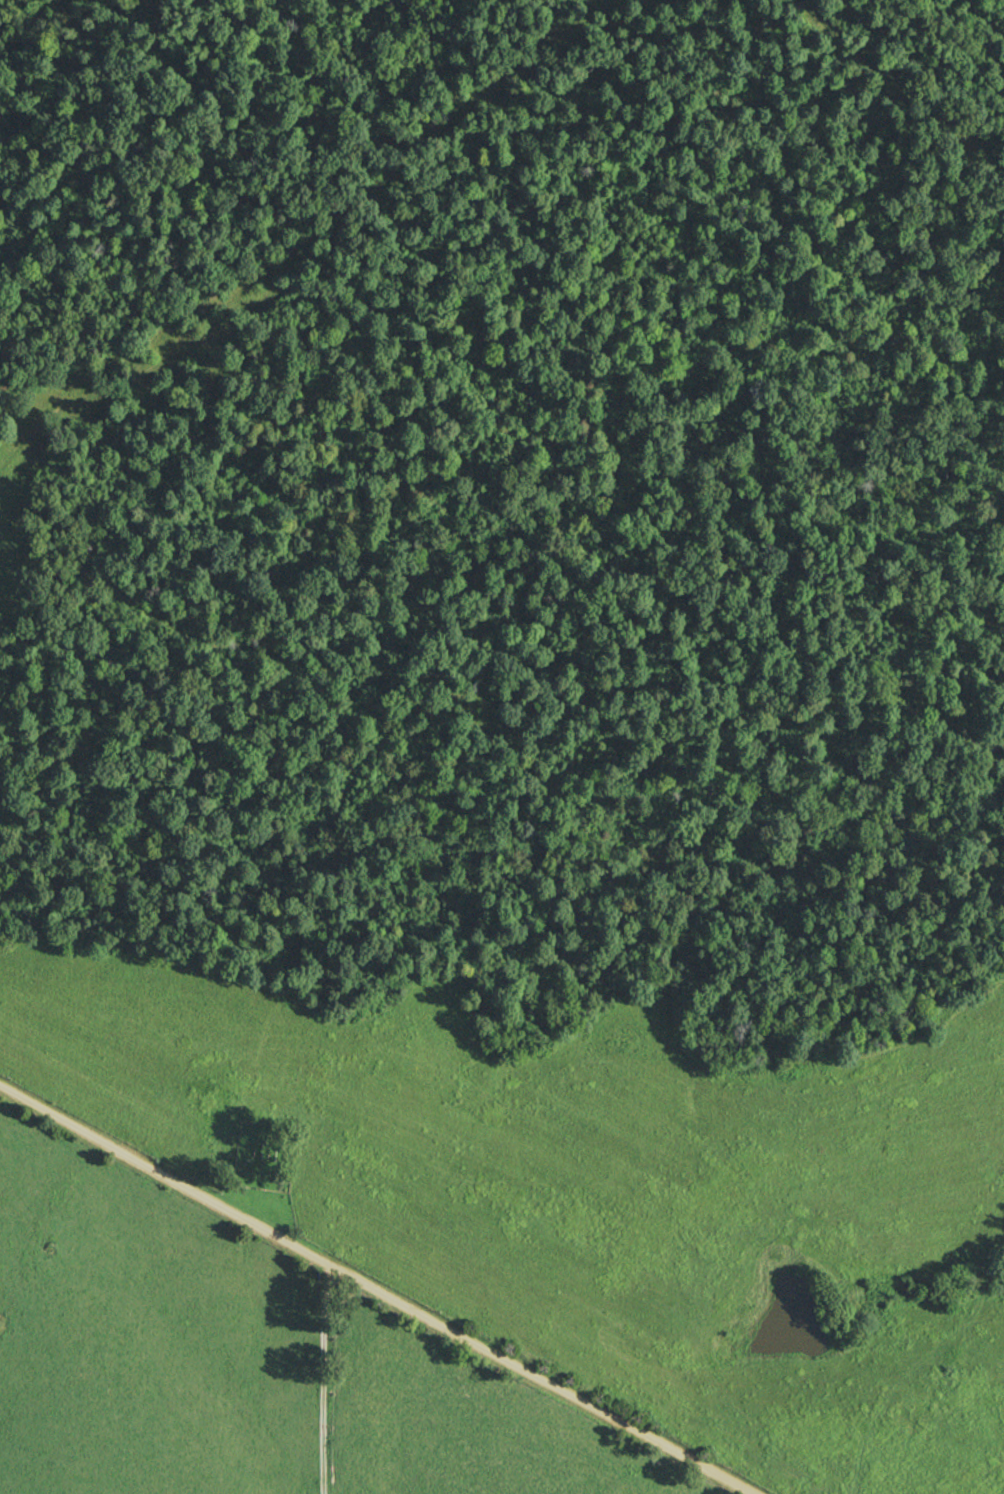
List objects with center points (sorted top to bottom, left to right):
park: (263, 1156)
road: (377, 1290)
road: (328, 1380)

